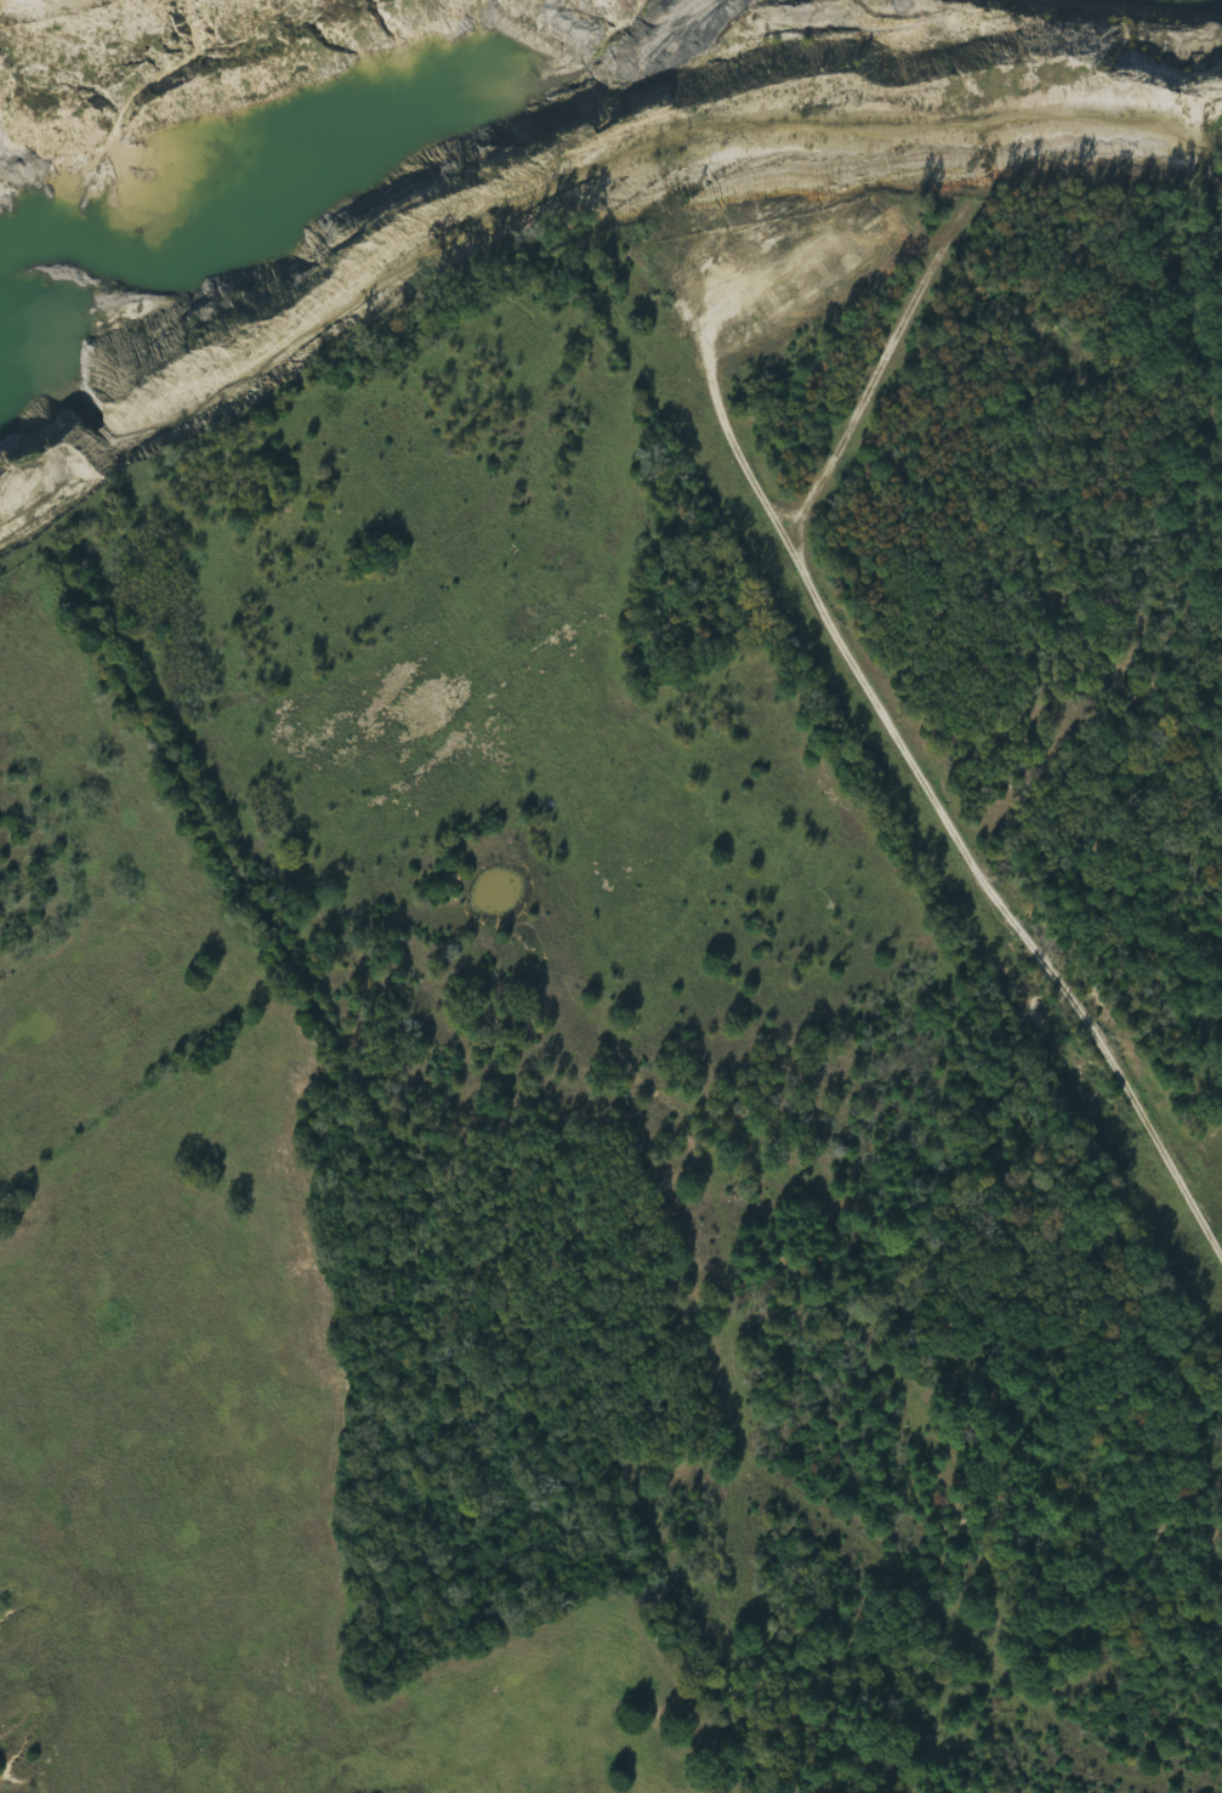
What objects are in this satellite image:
quarry: (184, 199)
road: (419, 1174)

